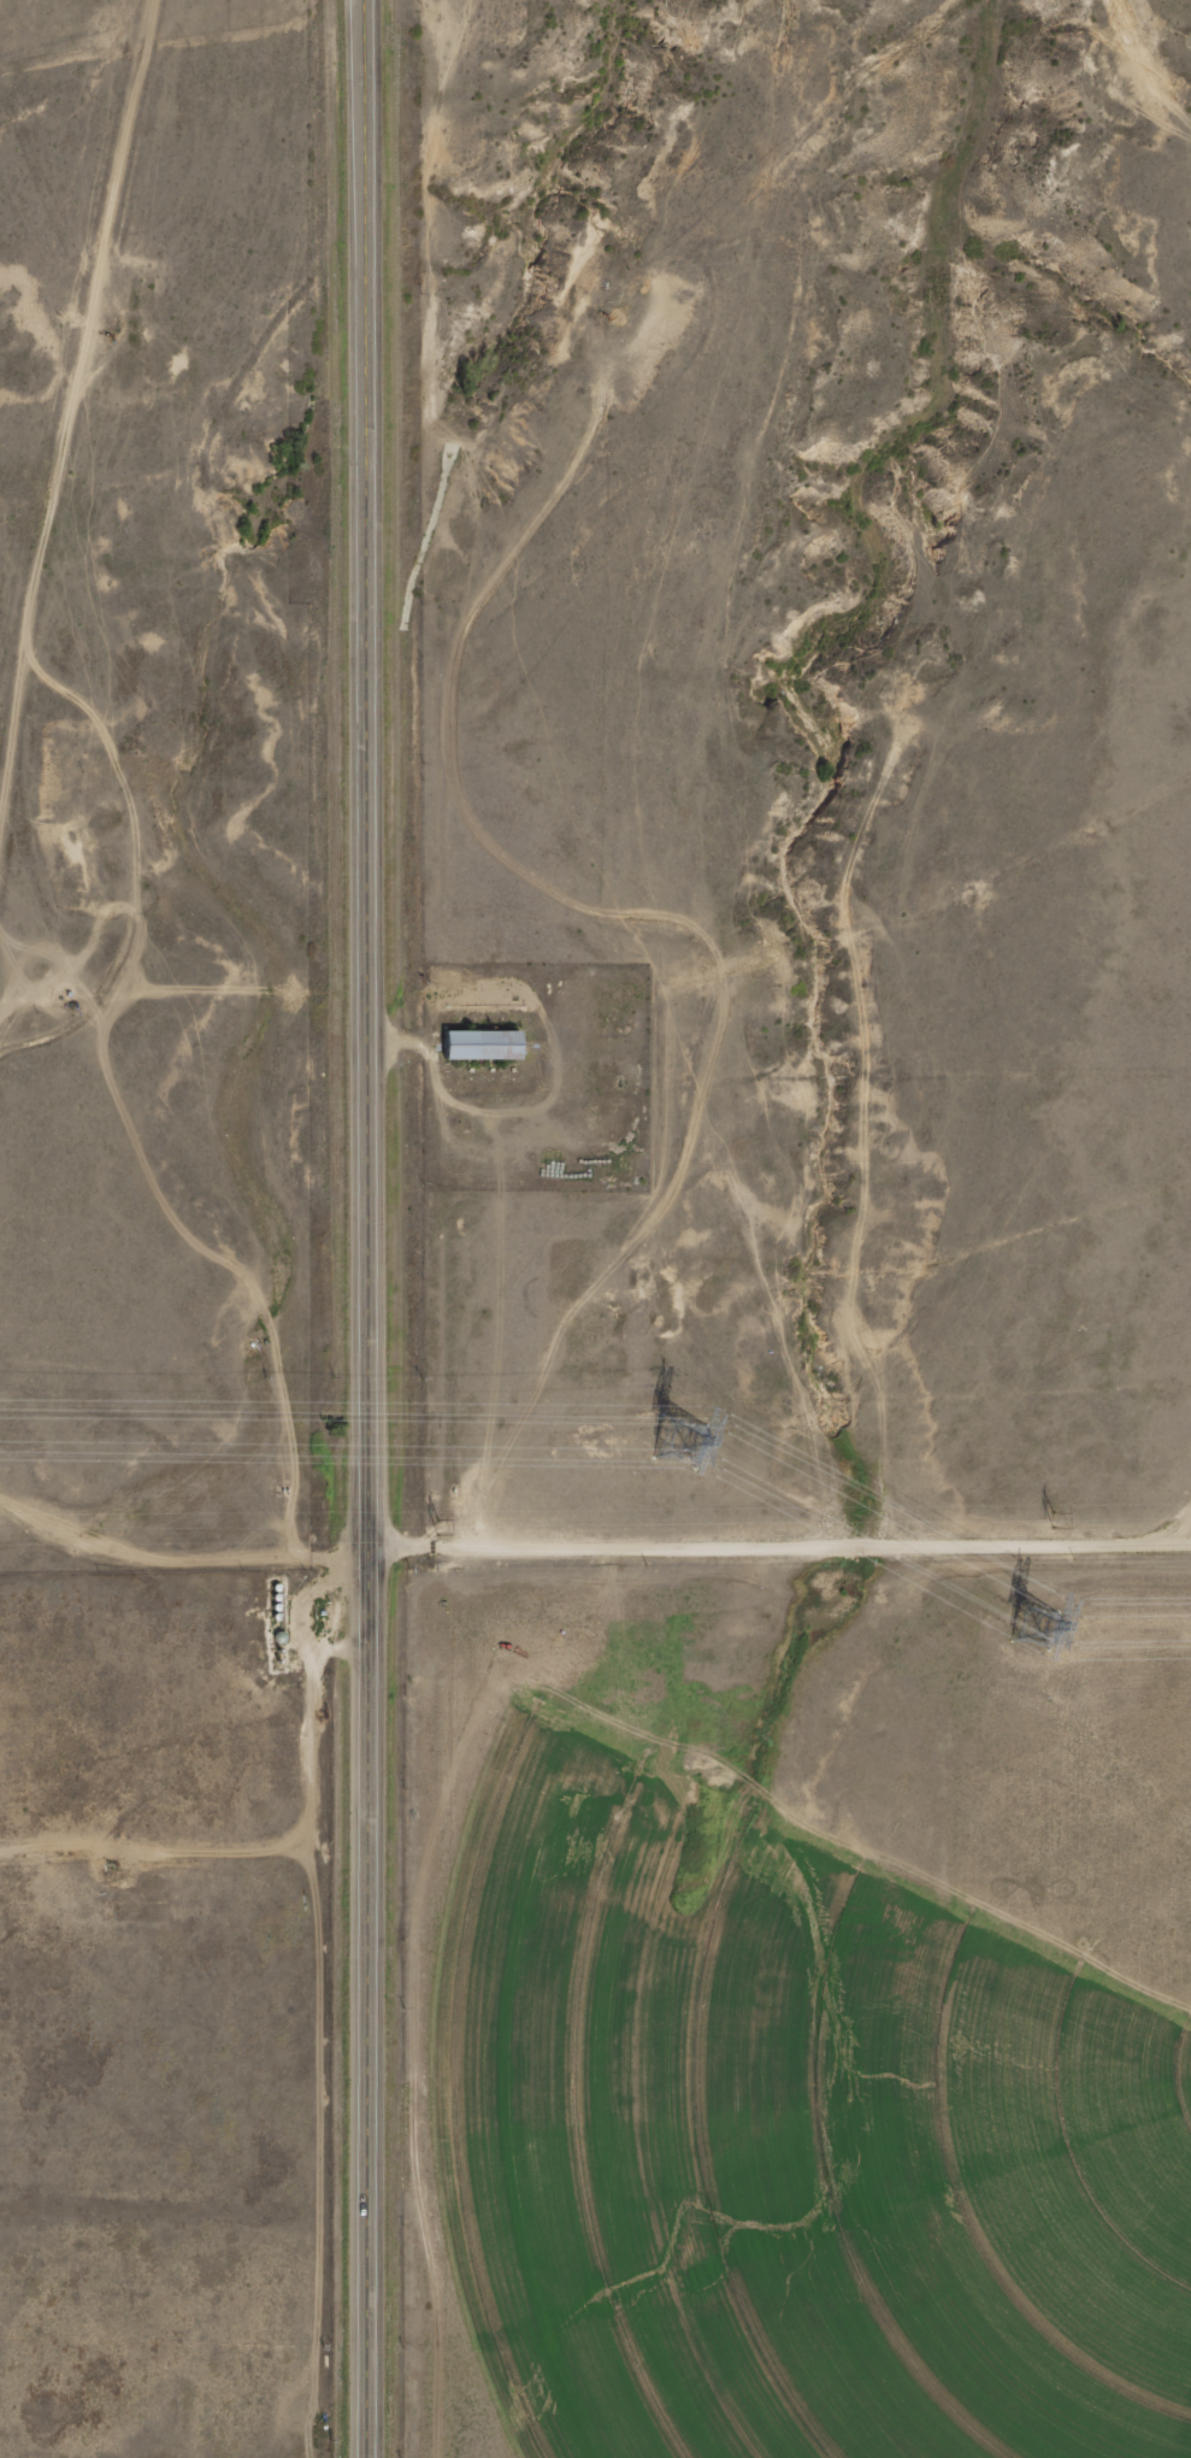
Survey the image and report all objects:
building: (488, 1046)
road: (366, 1229)
power tower: (677, 1441)
power tower: (1054, 1521)
power tower: (436, 1527)
road: (586, 1541)
power tower: (1033, 1624)

